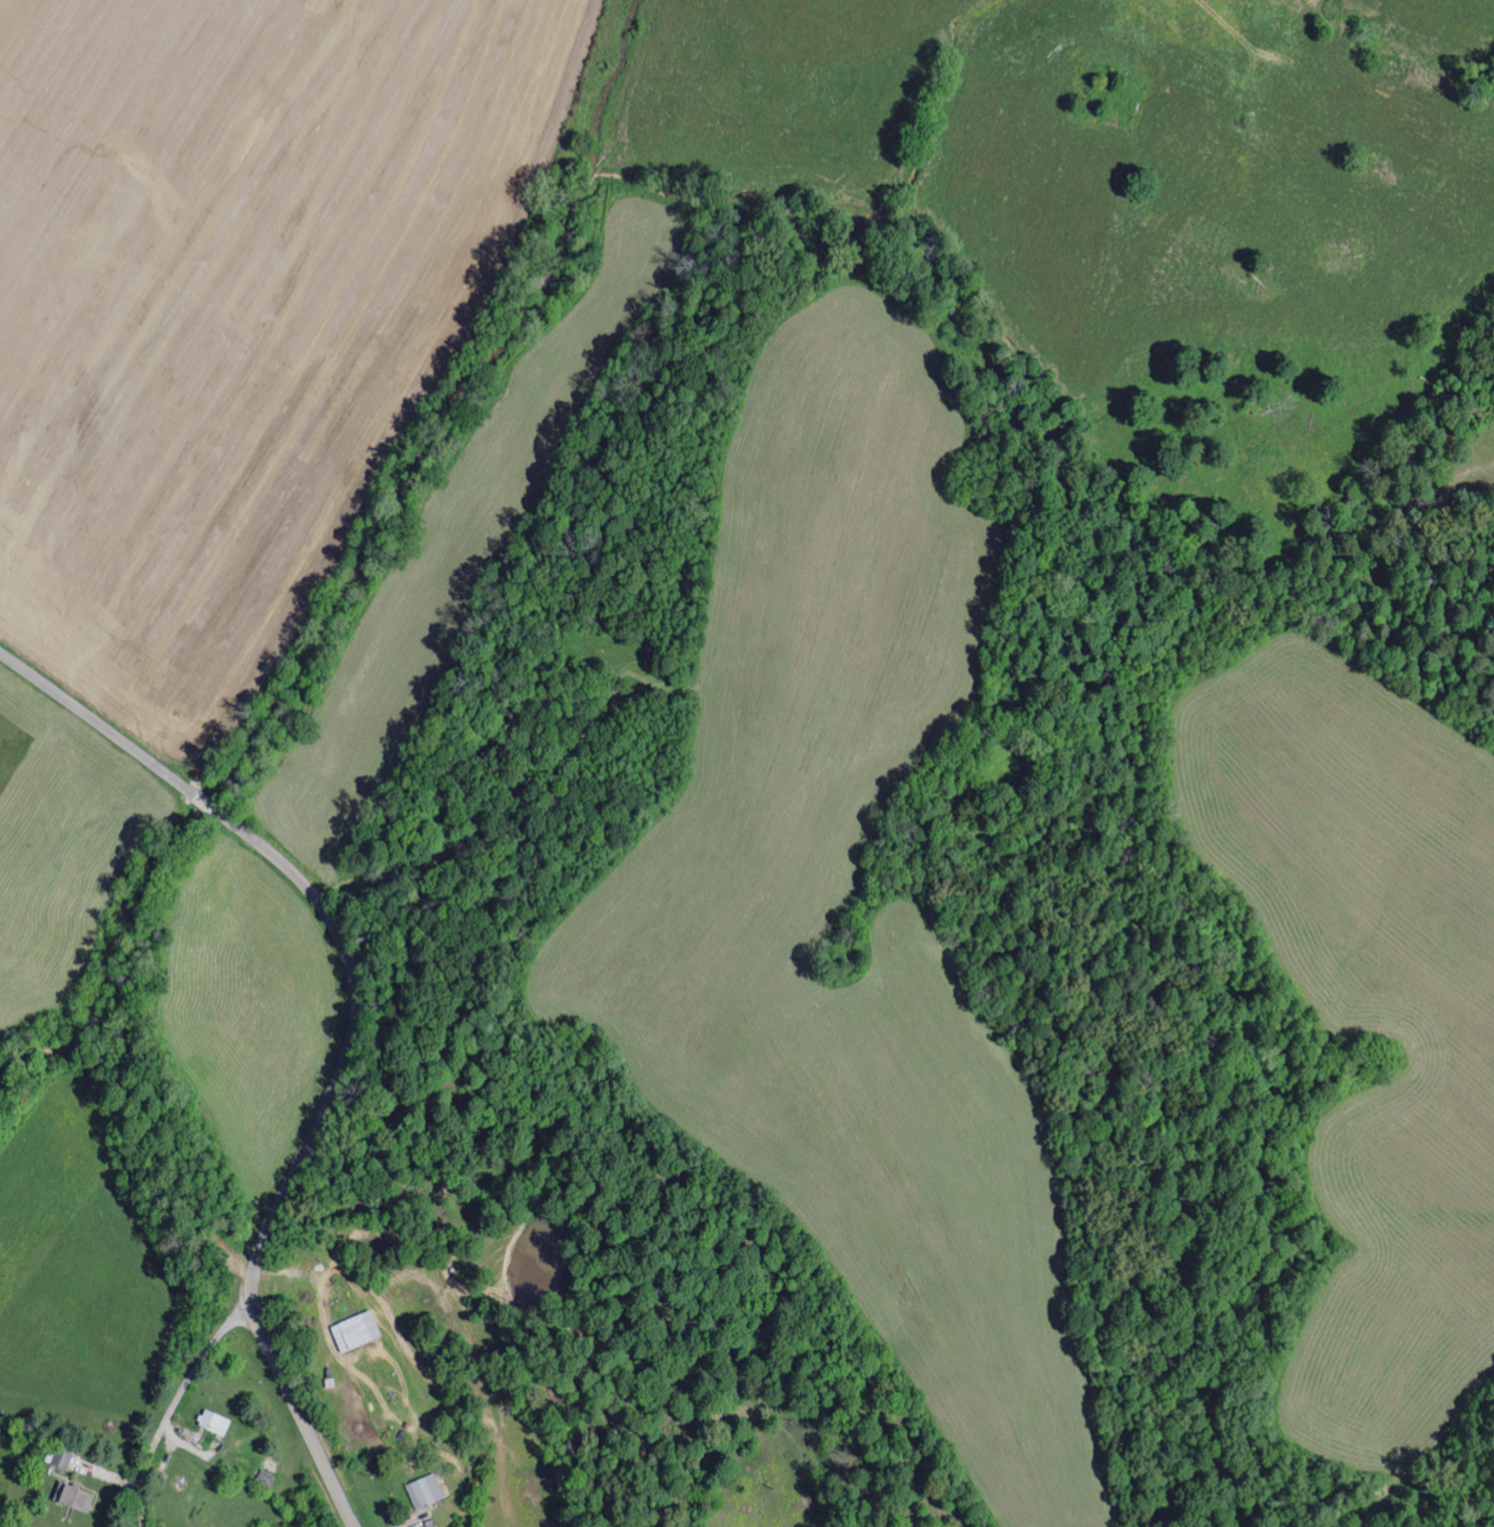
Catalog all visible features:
park: (1108, 96)
road: (102, 729)
road: (351, 1017)
building: (358, 1331)
road: (187, 1393)
road: (293, 1404)
building: (216, 1422)
building: (63, 1458)
building: (266, 1478)
building: (427, 1491)
building: (76, 1496)

